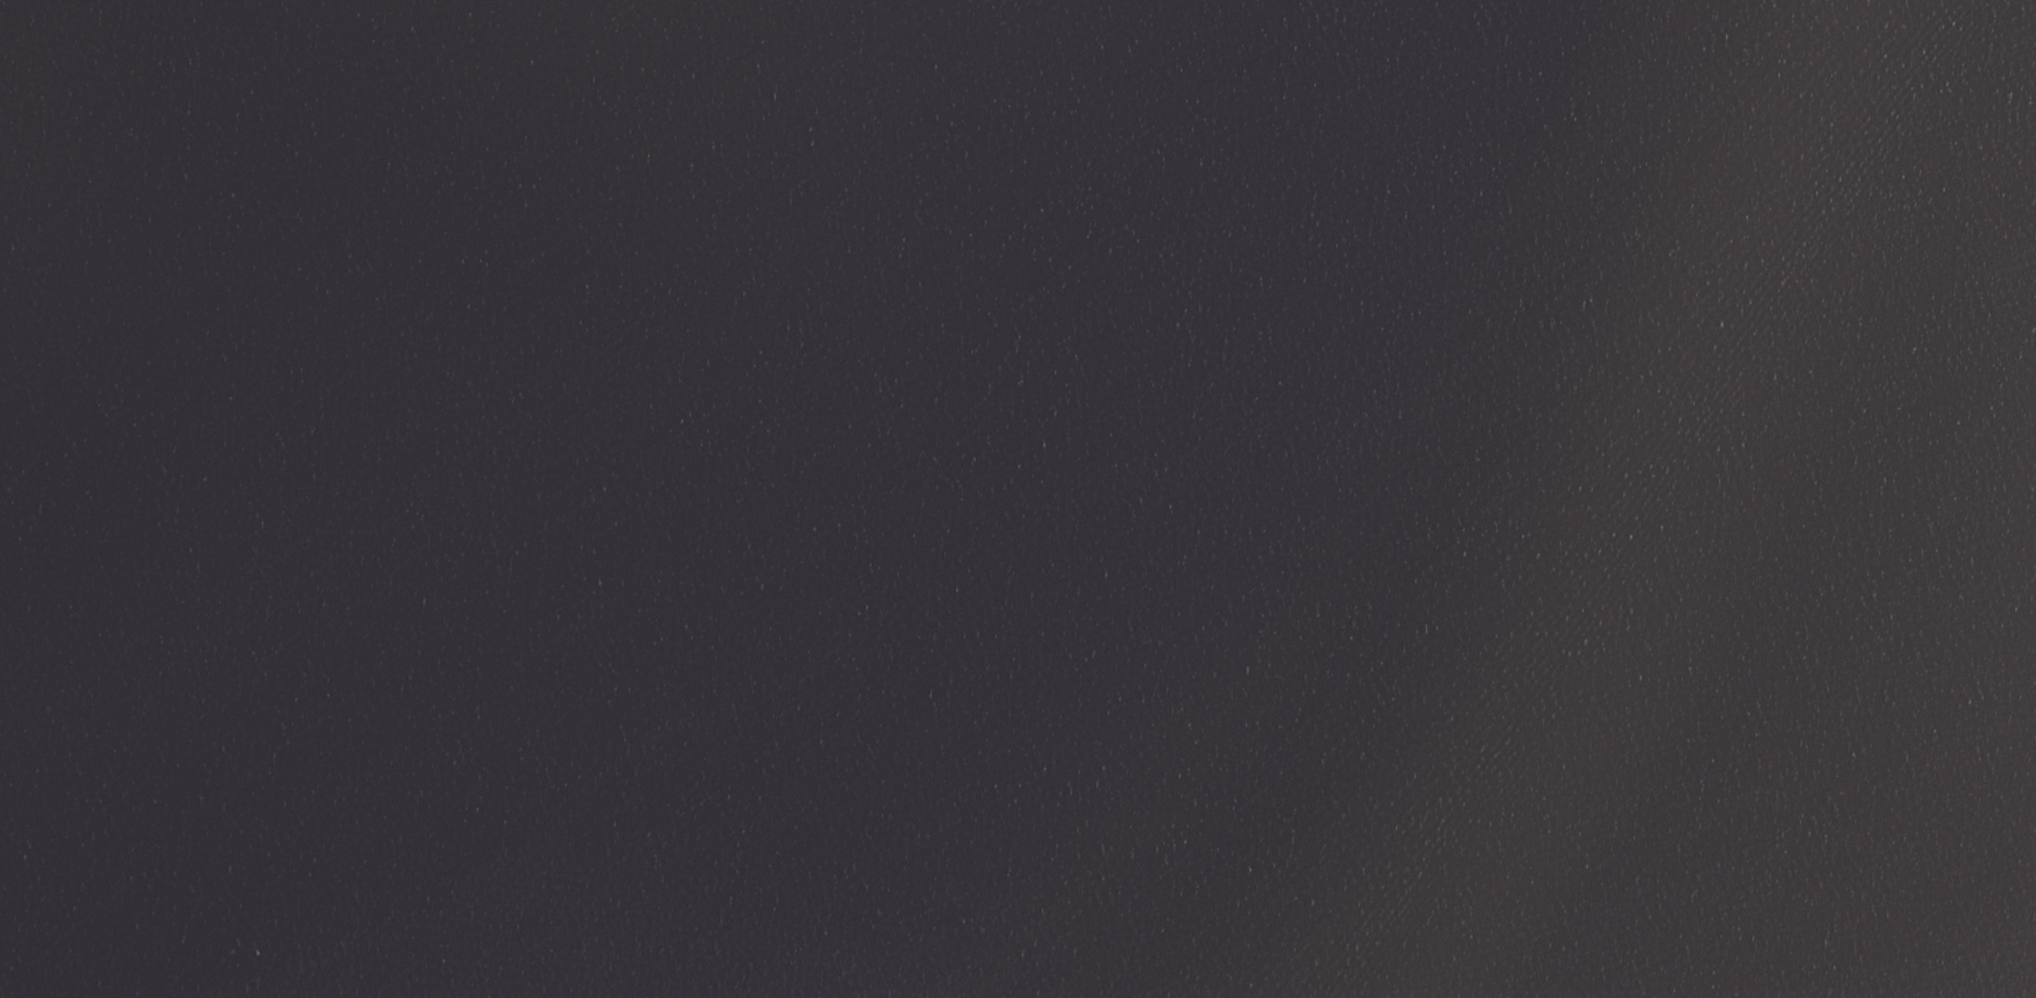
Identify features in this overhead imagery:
river: (966, 503)

